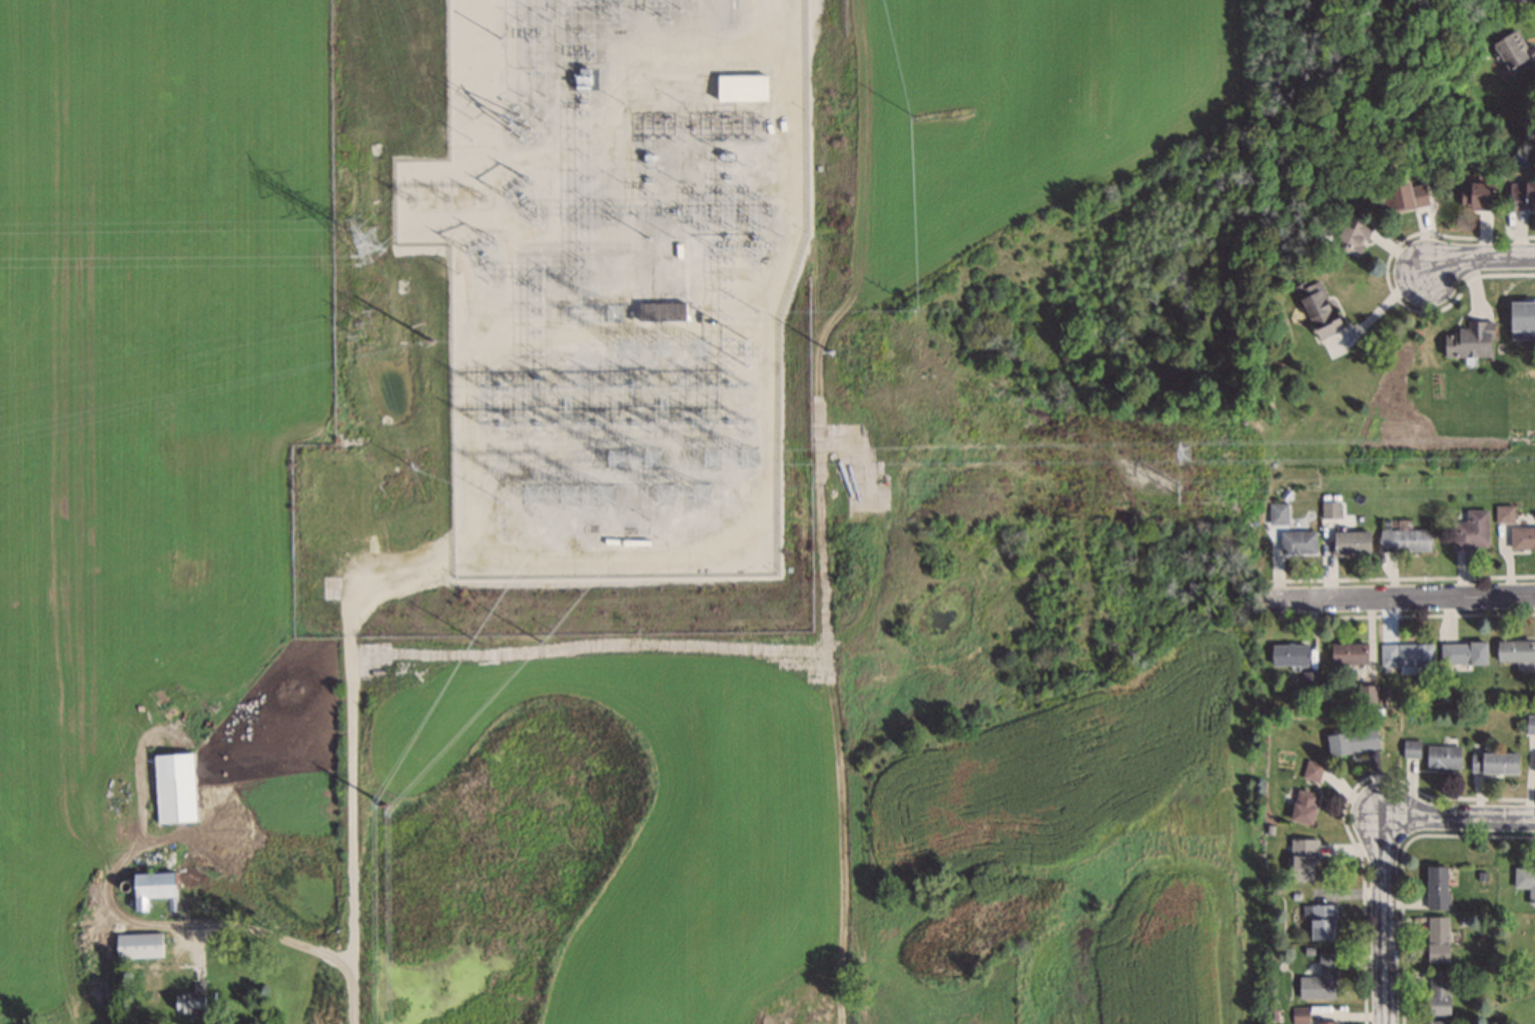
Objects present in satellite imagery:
building: (1506, 4)
building: (1514, 53)
building: (741, 90)
crop: (1025, 112)
power tower: (911, 115)
power tower: (465, 120)
building: (1522, 197)
power tower: (464, 199)
building: (1403, 199)
building: (1476, 199)
power tower: (427, 201)
building: (1351, 235)
power tower: (366, 243)
road: (1478, 262)
power tower: (453, 273)
power tower: (911, 309)
building: (661, 311)
power tower: (753, 311)
building: (1318, 312)
power substation: (563, 321)
building: (1522, 322)
power tower: (359, 324)
power tower: (426, 342)
building: (1469, 343)
crop: (140, 416)
power tower: (545, 421)
power tower: (1180, 454)
power tower: (746, 458)
power tower: (410, 470)
power tower: (701, 492)
power tower: (1179, 492)
power tower: (664, 494)
power tower: (565, 495)
power tower: (500, 506)
building: (1330, 511)
building: (1278, 515)
building: (1471, 532)
building: (1522, 539)
building: (1405, 542)
building: (1297, 543)
building: (1351, 543)
road: (1400, 599)
power tower: (538, 642)
power tower: (469, 643)
building: (1515, 652)
building: (1463, 654)
building: (1349, 655)
building: (1289, 656)
building: (1406, 657)
building: (1530, 725)
building: (1352, 742)
building: (1411, 750)
building: (1443, 758)
building: (1494, 763)
building: (1312, 772)
building: (175, 789)
building: (1304, 808)
crop: (660, 809)
power tower: (386, 810)
road: (1457, 816)
crop: (1092, 833)
building: (1303, 860)
building: (1526, 882)
building: (152, 888)
building: (1437, 889)
road: (1380, 920)
building: (1322, 923)
building: (1438, 940)
road: (298, 945)
building: (139, 946)
building: (1320, 981)
building: (1439, 993)
building: (191, 1003)
building: (1300, 1016)
building: (1327, 1023)
building: (1441, 1023)

